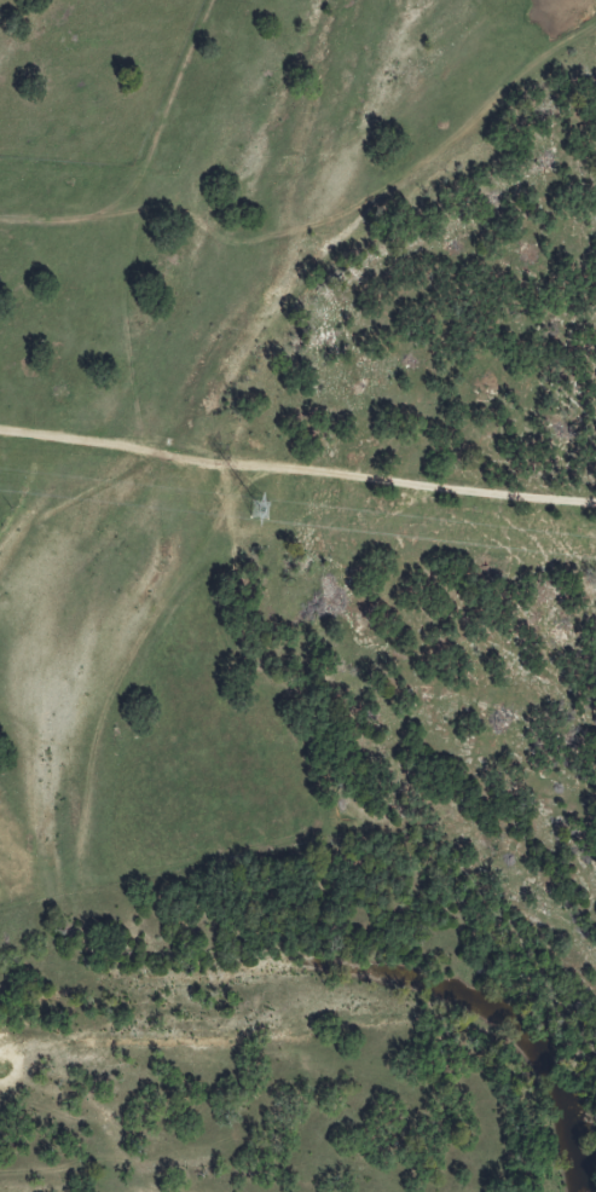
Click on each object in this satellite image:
power tower: (260, 516)

